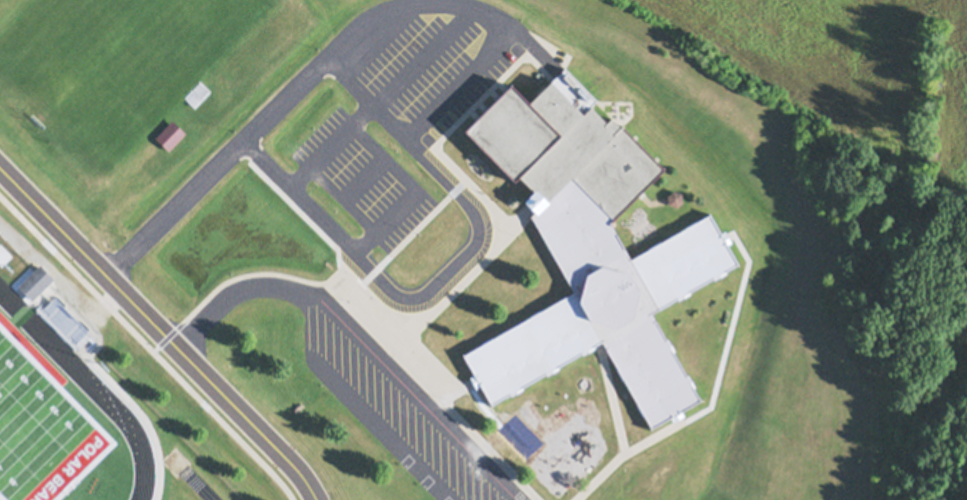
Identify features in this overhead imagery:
road: (483, 13)
park: (116, 69)
building: (169, 136)
road: (328, 144)
road: (396, 215)
building: (591, 250)
building: (36, 283)
road: (416, 291)
road: (222, 294)
road: (311, 294)
building: (65, 321)
road: (160, 332)
track: (89, 387)
park: (54, 430)
track: (54, 430)

